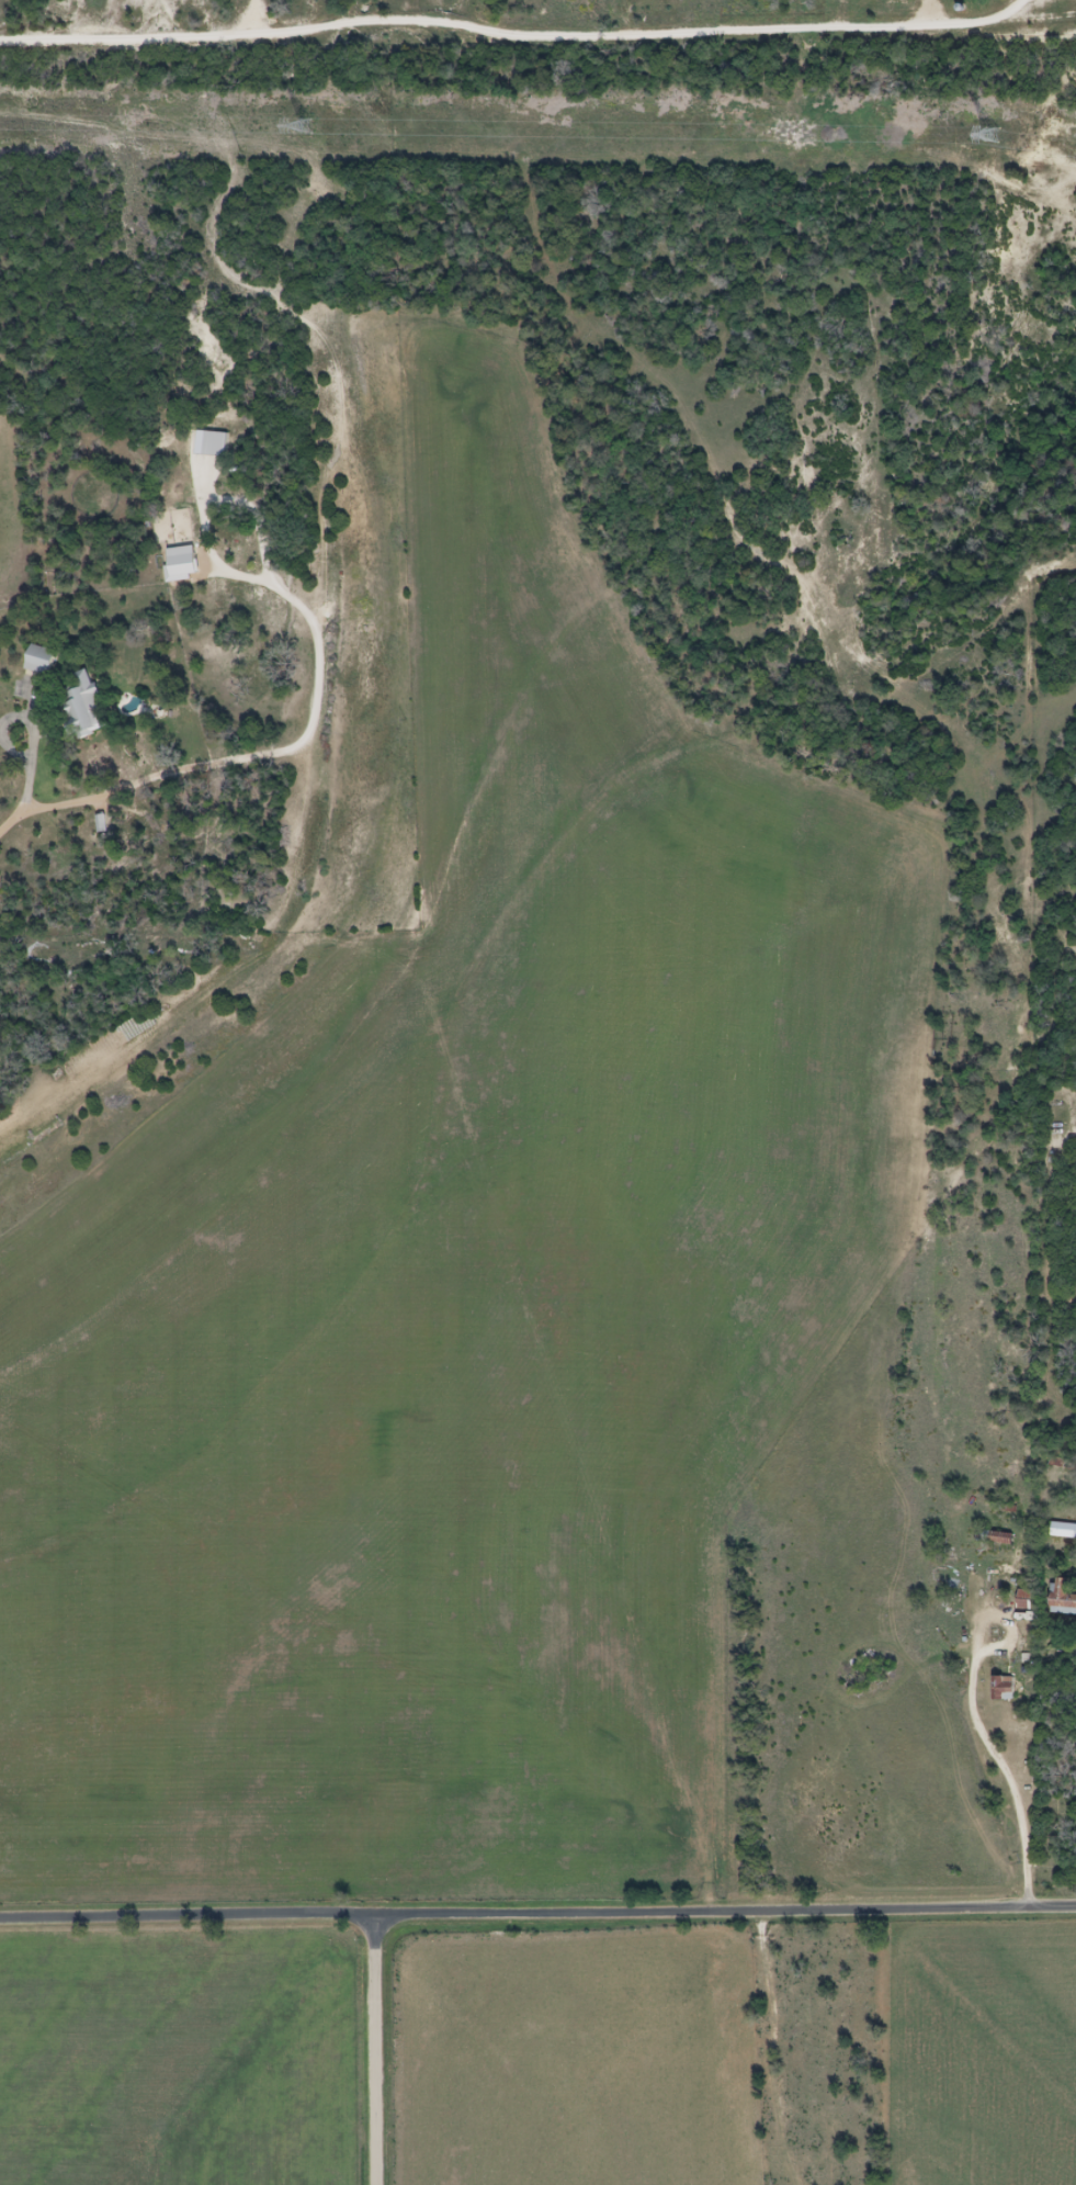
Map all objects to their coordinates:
power tower: (306, 126)
power tower: (992, 135)
building: (39, 662)
building: (82, 705)
building: (101, 824)
building: (1064, 1530)
building: (1063, 1597)
building: (1004, 1688)
road: (1006, 1778)
road: (537, 1912)
road: (373, 2049)

